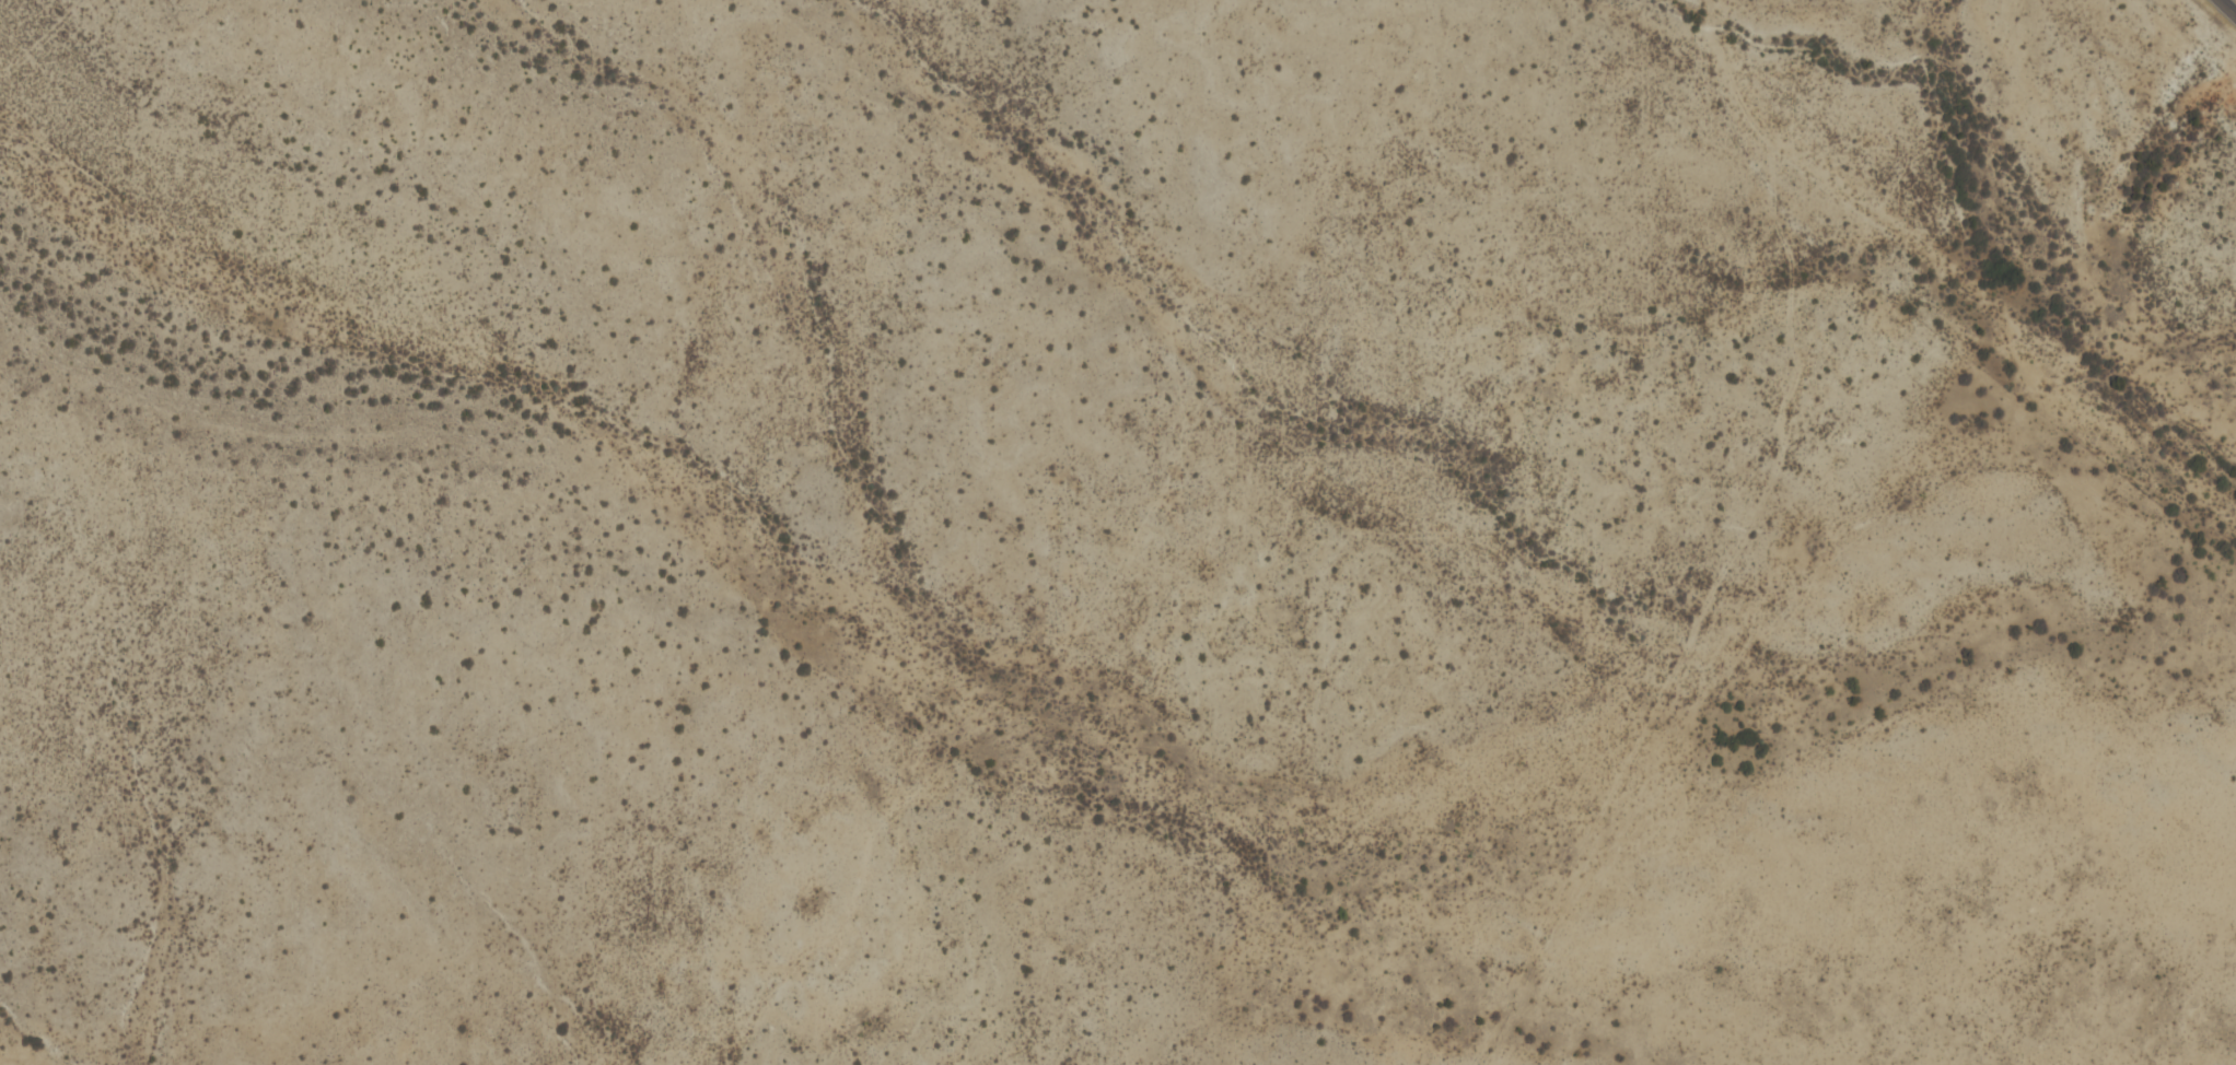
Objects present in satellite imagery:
road: (2226, 9)
power tower: (2218, 238)

